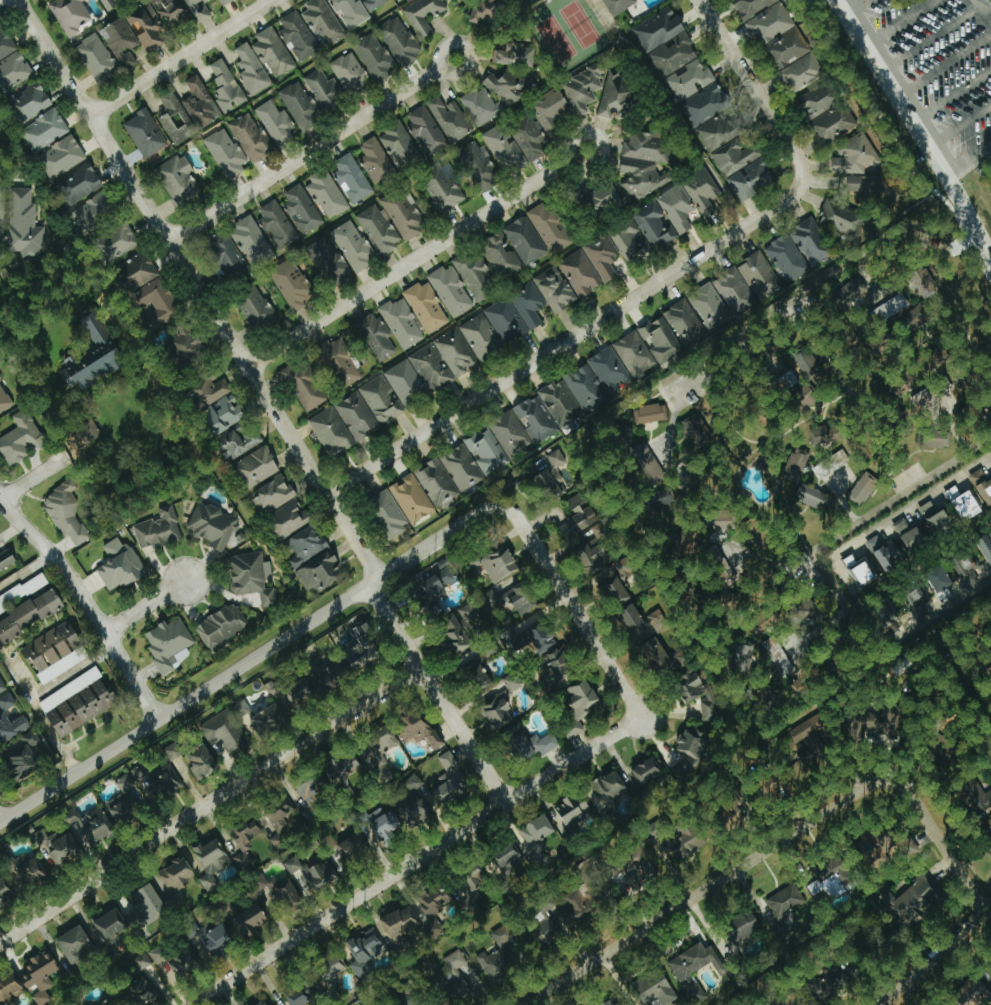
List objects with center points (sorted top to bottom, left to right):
building: (224, 2)
building: (108, 3)
building: (617, 5)
road: (857, 5)
building: (751, 6)
building: (198, 9)
building: (168, 10)
building: (486, 12)
building: (69, 14)
building: (422, 14)
road: (979, 18)
building: (322, 22)
road: (904, 22)
building: (770, 23)
building: (145, 27)
building: (657, 28)
building: (296, 36)
road: (930, 39)
building: (397, 40)
building: (120, 42)
building: (5, 44)
building: (787, 48)
building: (271, 52)
building: (511, 53)
building: (672, 55)
building: (96, 57)
building: (372, 57)
road: (182, 58)
road: (946, 65)
building: (249, 67)
park: (948, 70)
building: (13, 71)
building: (801, 71)
building: (347, 73)
building: (688, 80)
building: (224, 86)
building: (505, 86)
building: (322, 89)
building: (581, 89)
building: (617, 93)
road: (955, 96)
building: (818, 100)
building: (31, 101)
building: (199, 103)
building: (297, 103)
building: (704, 104)
building: (480, 107)
building: (548, 110)
road: (779, 113)
building: (173, 119)
building: (448, 119)
road: (918, 119)
building: (275, 123)
building: (833, 123)
road: (962, 124)
building: (44, 129)
building: (424, 130)
building: (716, 132)
building: (144, 133)
building: (249, 137)
building: (526, 138)
building: (398, 146)
building: (501, 147)
road: (312, 150)
building: (224, 153)
building: (734, 156)
building: (852, 156)
building: (60, 157)
road: (971, 157)
building: (374, 160)
building: (643, 162)
building: (477, 166)
building: (178, 179)
building: (350, 179)
building: (750, 179)
building: (79, 183)
building: (867, 186)
building: (442, 193)
building: (325, 194)
building: (604, 196)
building: (687, 200)
building: (300, 208)
building: (93, 211)
building: (403, 214)
building: (841, 219)
building: (24, 224)
building: (276, 224)
building: (652, 226)
building: (548, 227)
building: (377, 230)
building: (250, 240)
building: (523, 240)
building: (811, 242)
building: (116, 243)
building: (628, 245)
building: (351, 246)
building: (226, 251)
building: (500, 256)
road: (415, 258)
building: (601, 258)
building: (786, 258)
building: (325, 259)
building: (138, 270)
building: (578, 274)
building: (474, 276)
building: (759, 276)
road: (814, 280)
building: (924, 283)
building: (292, 286)
road: (198, 289)
building: (553, 290)
building: (449, 291)
building: (734, 291)
building: (852, 292)
building: (157, 303)
building: (527, 306)
building: (424, 307)
building: (710, 307)
building: (892, 307)
building: (255, 309)
building: (504, 320)
building: (684, 323)
building: (95, 329)
building: (479, 336)
building: (375, 337)
building: (659, 340)
building: (187, 341)
building: (453, 352)
building: (633, 354)
road: (547, 357)
building: (340, 361)
building: (806, 365)
building: (92, 366)
building: (416, 375)
building: (0, 379)
building: (596, 379)
building: (303, 385)
building: (209, 391)
building: (926, 396)
building: (4, 400)
building: (380, 400)
building: (559, 403)
building: (224, 413)
building: (645, 414)
building: (356, 416)
building: (535, 420)
road: (672, 424)
road: (954, 428)
building: (696, 430)
building: (330, 431)
building: (827, 433)
building: (509, 434)
building: (20, 439)
building: (933, 439)
building: (81, 440)
building: (236, 444)
building: (485, 451)
building: (838, 459)
building: (647, 463)
building: (795, 465)
building: (256, 466)
building: (461, 467)
building: (550, 473)
building: (689, 475)
road: (33, 477)
building: (436, 482)
building: (982, 486)
building: (862, 488)
building: (272, 494)
road: (903, 494)
building: (814, 497)
building: (411, 498)
building: (663, 500)
road: (844, 502)
road: (913, 503)
building: (964, 504)
building: (65, 512)
building: (388, 512)
building: (578, 517)
building: (288, 518)
building: (936, 518)
building: (212, 525)
building: (158, 529)
building: (757, 534)
building: (909, 534)
road: (260, 541)
building: (306, 545)
building: (985, 546)
building: (886, 553)
building: (595, 557)
road: (928, 557)
building: (6, 559)
road: (775, 562)
building: (498, 564)
building: (118, 565)
road: (24, 570)
building: (858, 571)
building: (965, 571)
building: (318, 572)
building: (251, 577)
building: (441, 581)
building: (940, 582)
building: (612, 589)
building: (494, 598)
building: (523, 598)
building: (914, 603)
road: (87, 607)
road: (944, 607)
road: (147, 608)
road: (573, 610)
building: (30, 613)
building: (644, 624)
building: (220, 627)
building: (459, 628)
building: (541, 636)
building: (515, 639)
building: (169, 645)
building: (361, 646)
building: (54, 652)
building: (662, 655)
building: (742, 655)
building: (777, 656)
road: (250, 662)
building: (558, 671)
building: (479, 672)
building: (329, 673)
building: (299, 693)
road: (434, 694)
road: (35, 695)
building: (699, 695)
building: (76, 702)
building: (501, 704)
building: (579, 705)
building: (267, 719)
building: (10, 721)
building: (888, 724)
building: (224, 732)
building: (421, 732)
building: (809, 738)
building: (528, 743)
building: (379, 748)
building: (171, 751)
building: (690, 751)
building: (24, 756)
building: (201, 762)
building: (342, 768)
building: (646, 771)
building: (139, 773)
building: (450, 781)
building: (164, 783)
building: (413, 783)
building: (609, 788)
building: (311, 794)
building: (125, 801)
road: (210, 807)
building: (571, 809)
building: (415, 810)
building: (278, 823)
building: (385, 825)
building: (92, 826)
building: (536, 833)
building: (988, 835)
building: (686, 842)
road: (943, 845)
building: (58, 846)
building: (241, 847)
building: (351, 847)
road: (417, 858)
building: (506, 858)
building: (209, 862)
building: (634, 871)
building: (312, 873)
building: (31, 874)
building: (176, 878)
building: (473, 883)
road: (708, 887)
building: (5, 892)
building: (285, 894)
building: (435, 901)
building: (915, 902)
building: (583, 904)
building: (784, 904)
building: (145, 908)
building: (252, 918)
building: (110, 924)
building: (400, 927)
building: (741, 930)
building: (542, 932)
building: (214, 940)
building: (74, 945)
building: (156, 954)
building: (365, 954)
building: (498, 956)
road: (936, 957)
building: (139, 963)
building: (183, 964)
building: (693, 968)
building: (331, 970)
building: (39, 976)
building: (453, 978)
building: (831, 983)
building: (9, 989)
building: (656, 989)
building: (142, 992)
building: (972, 992)
building: (300, 996)
building: (792, 1001)
building: (111, 1002)
building: (612, 1002)
building: (89, 1003)
building: (263, 1003)

